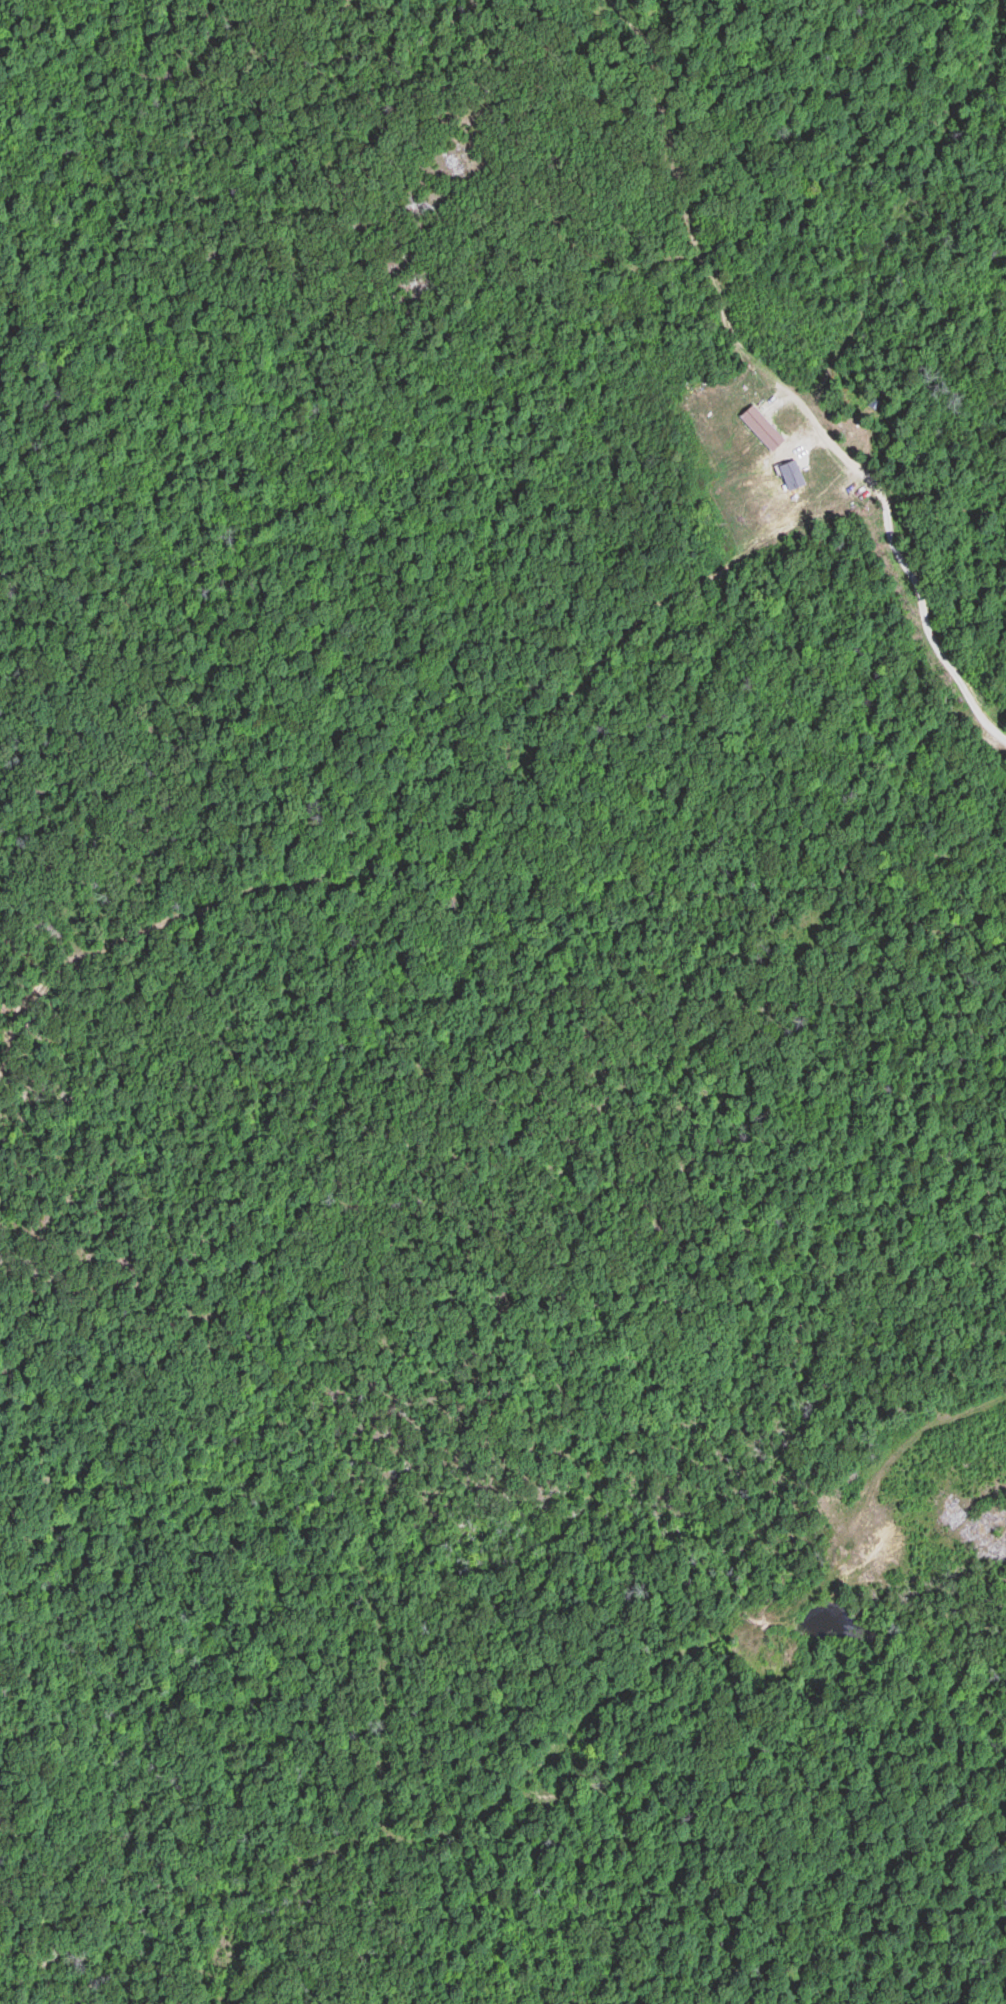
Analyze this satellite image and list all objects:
building: (761, 428)
building: (791, 474)

